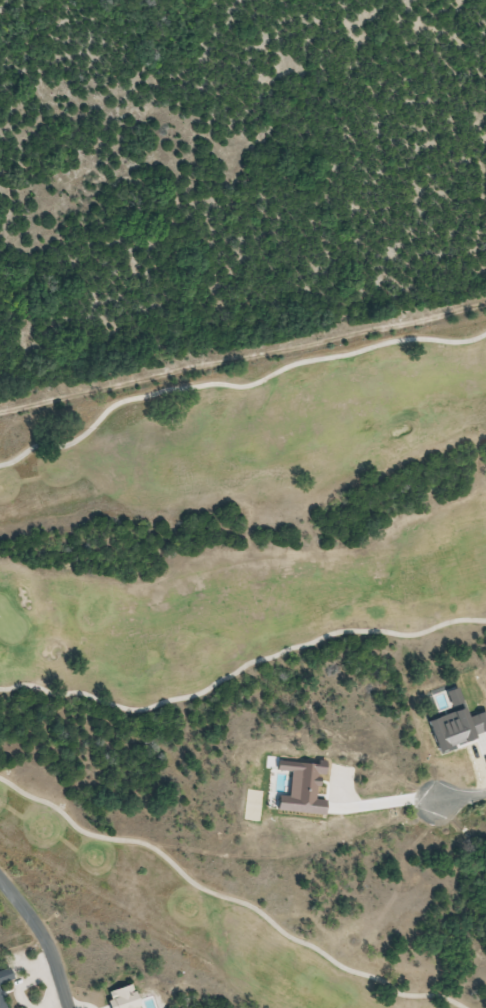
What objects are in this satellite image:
road: (242, 354)
road: (235, 386)
road: (240, 669)
park: (250, 682)
road: (457, 798)
road: (229, 898)
road: (43, 939)
building: (120, 998)

